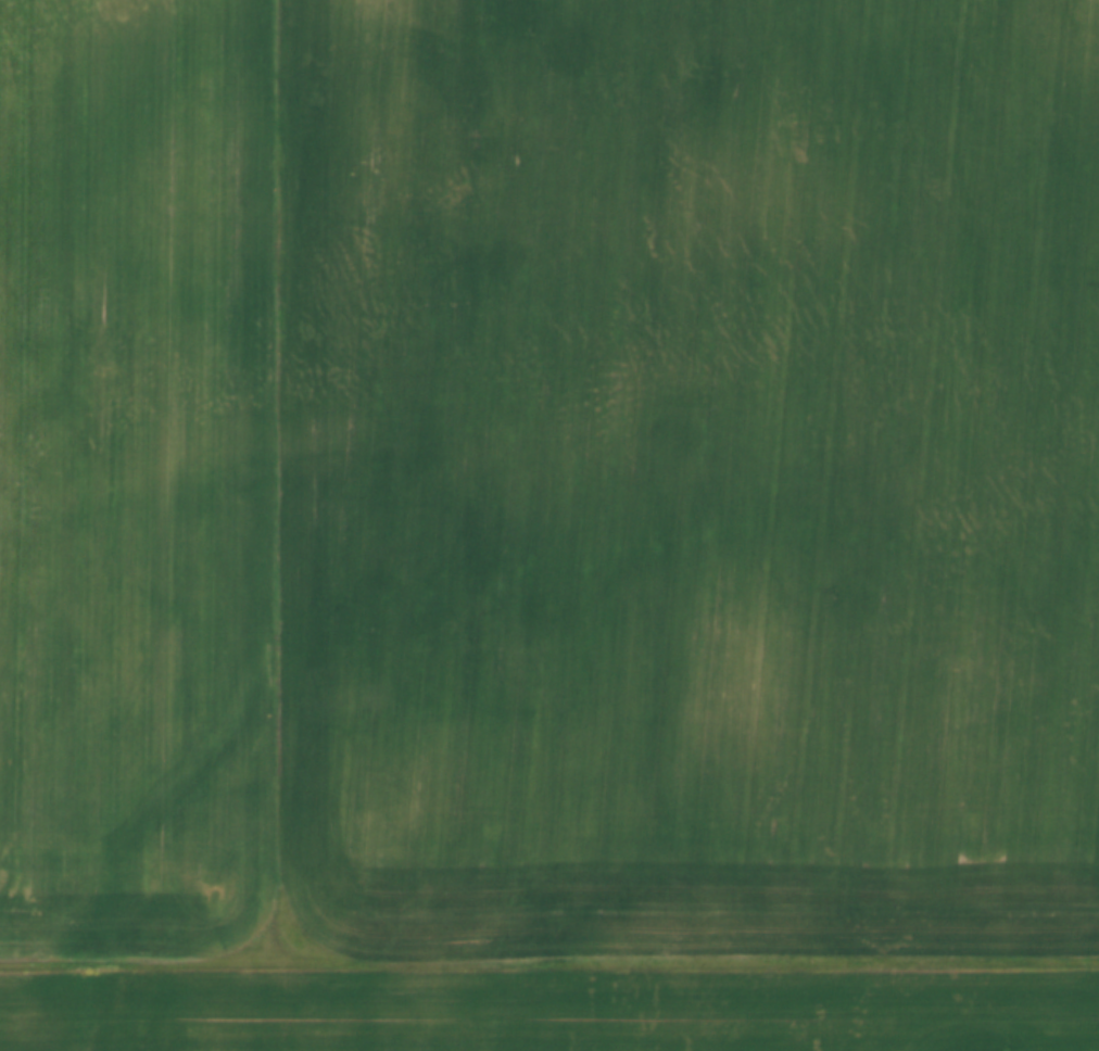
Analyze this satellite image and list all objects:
road: (549, 961)

